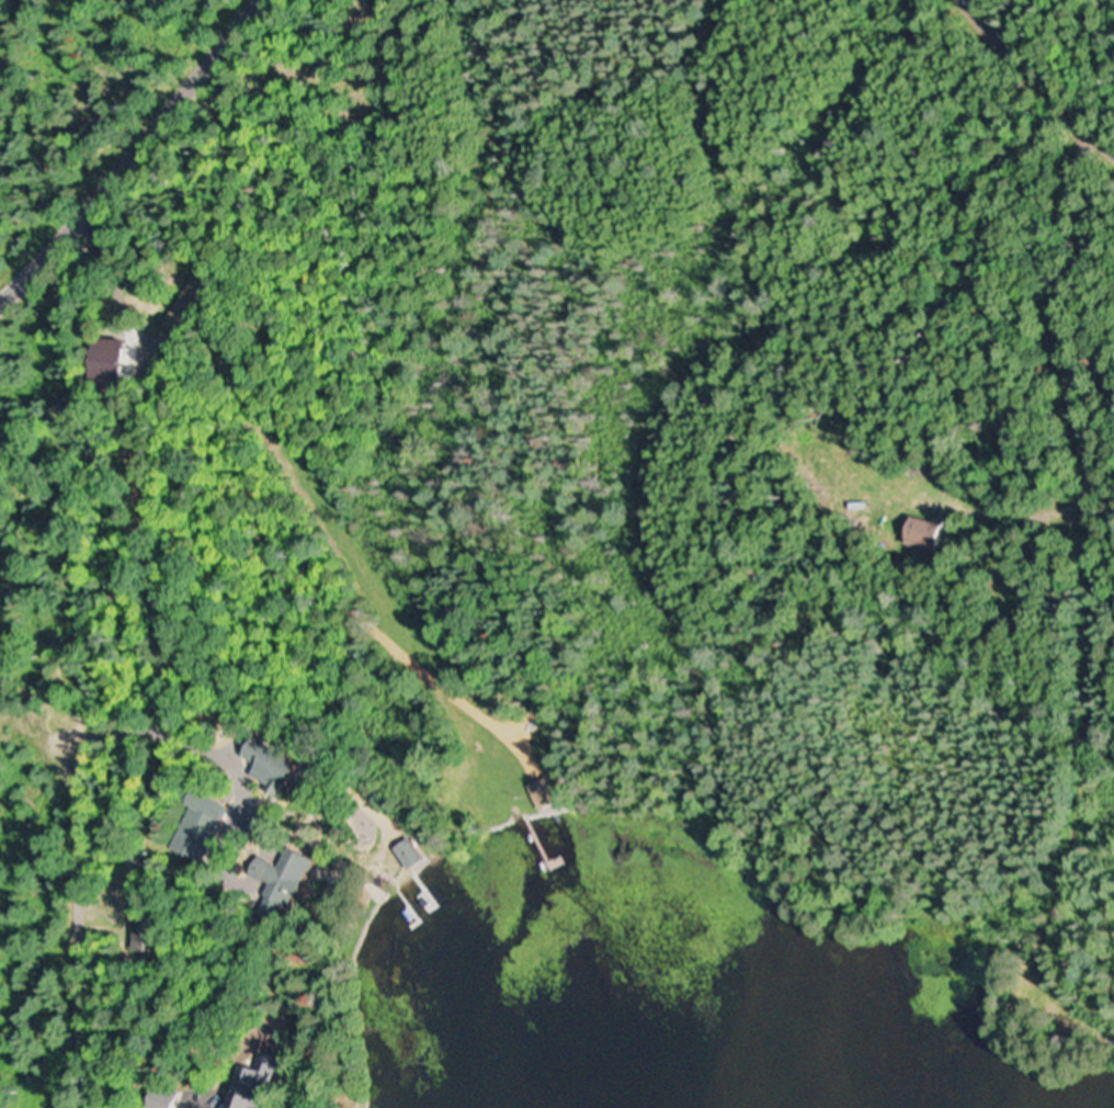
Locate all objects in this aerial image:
road: (1032, 80)
road: (1100, 97)
road: (133, 155)
road: (1068, 473)
building: (930, 533)
building: (274, 767)
building: (546, 795)
building: (201, 827)
building: (409, 855)
building: (289, 875)
building: (155, 934)
road: (93, 1069)
building: (253, 1095)

